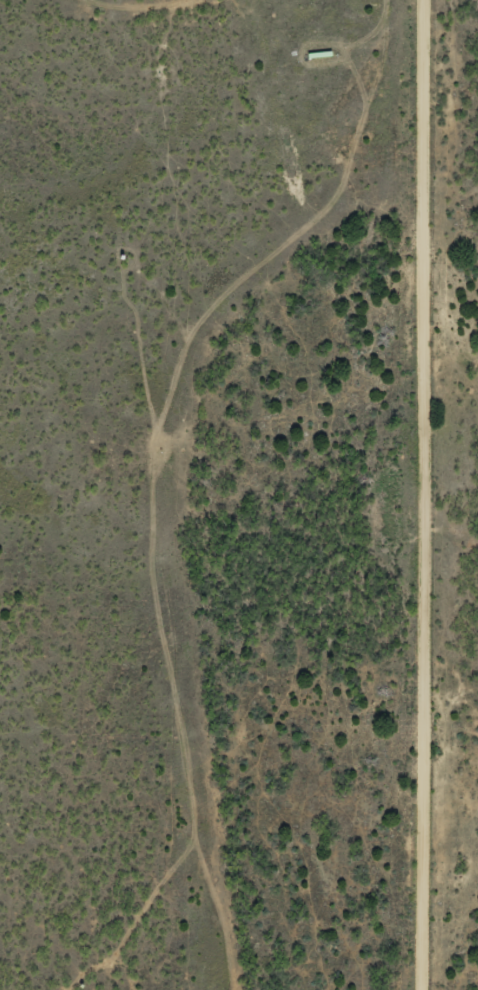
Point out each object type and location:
road: (413, 495)

